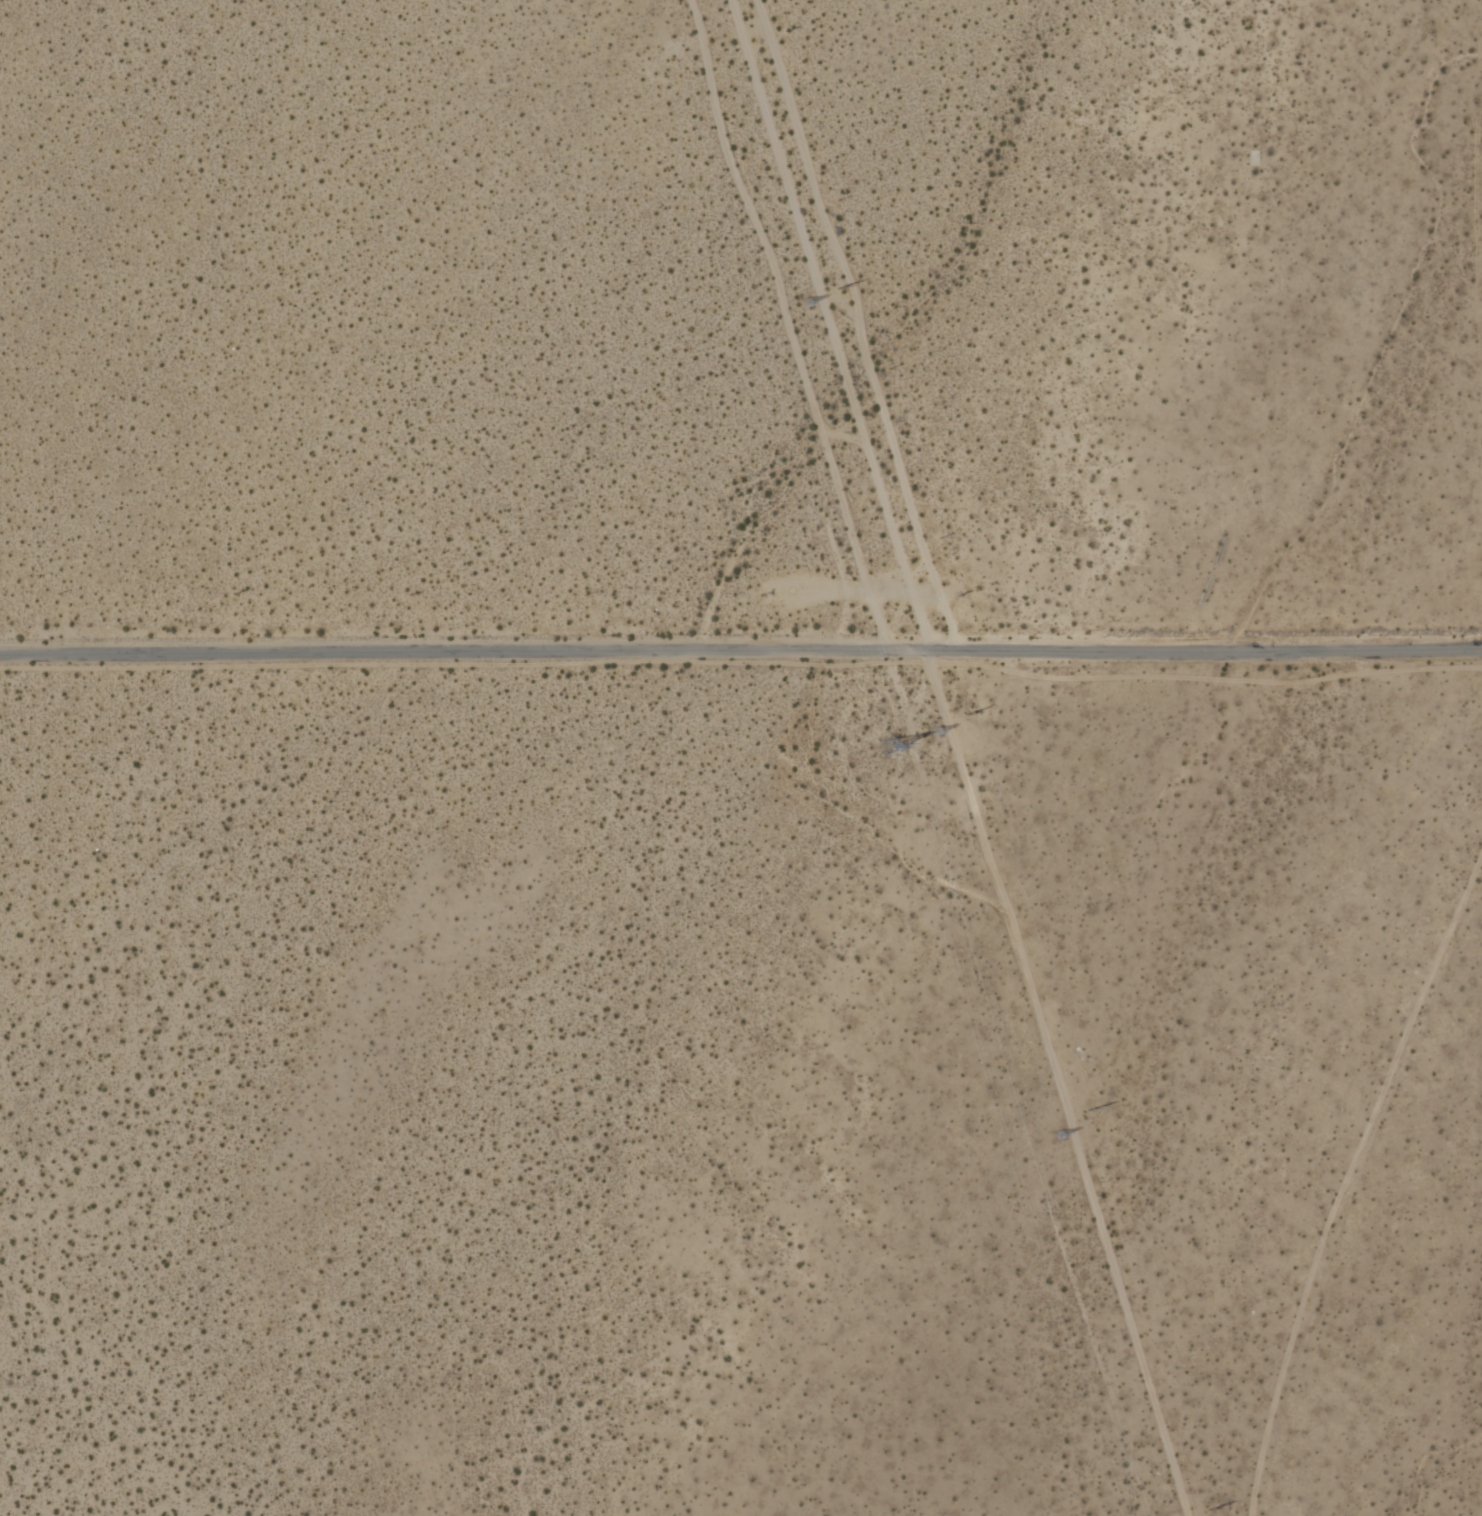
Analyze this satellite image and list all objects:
power tower: (846, 292)
power tower: (806, 304)
road: (741, 649)
power tower: (973, 711)
power tower: (932, 733)
power tower: (895, 748)
power tower: (1092, 1110)
power tower: (1058, 1136)
power tower: (1211, 1510)

